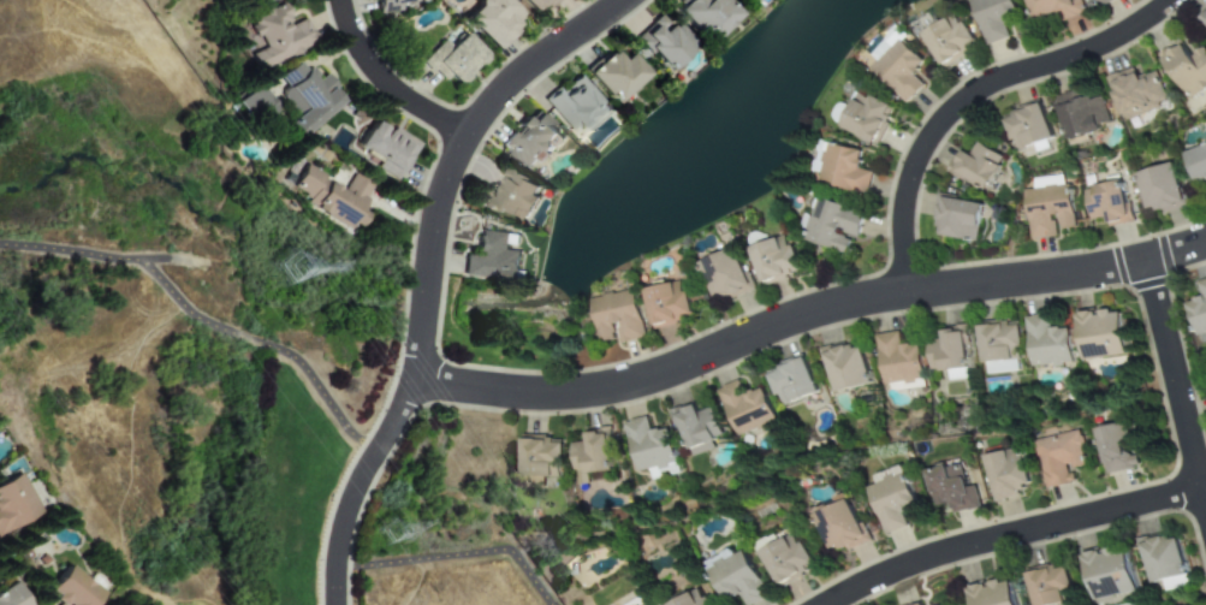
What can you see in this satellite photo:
building: (741, 0)
building: (1095, 1)
building: (1104, 2)
building: (390, 5)
building: (535, 5)
building: (1054, 8)
building: (701, 17)
building: (992, 18)
building: (489, 20)
building: (1201, 20)
building: (275, 36)
building: (946, 40)
building: (660, 45)
building: (450, 60)
building: (897, 69)
building: (1186, 69)
building: (610, 76)
road: (390, 84)
road: (975, 91)
building: (1136, 94)
building: (303, 97)
building: (255, 103)
building: (570, 103)
building: (1081, 115)
building: (865, 118)
building: (1024, 126)
building: (528, 141)
building: (381, 147)
road: (461, 154)
building: (1196, 164)
building: (975, 166)
building: (842, 171)
building: (1157, 189)
building: (509, 195)
building: (329, 197)
building: (1105, 202)
building: (1046, 210)
building: (955, 219)
building: (832, 226)
building: (493, 255)
building: (772, 260)
power tower: (289, 271)
building: (724, 275)
building: (666, 303)
building: (1198, 310)
road: (809, 314)
building: (614, 318)
road: (204, 321)
building: (1101, 334)
building: (999, 340)
building: (1046, 342)
building: (947, 350)
building: (897, 358)
building: (845, 367)
building: (792, 381)
road: (1176, 386)
building: (744, 408)
building: (697, 428)
building: (1118, 447)
building: (650, 449)
building: (592, 452)
building: (1063, 457)
building: (540, 458)
building: (1009, 473)
park: (302, 487)
road: (361, 487)
building: (953, 487)
building: (895, 502)
building: (14, 504)
building: (843, 526)
power tower: (390, 534)
road: (1004, 534)
road: (457, 558)
building: (789, 558)
building: (1162, 558)
building: (1107, 571)
building: (739, 579)
building: (1048, 585)
building: (65, 589)
building: (992, 593)
building: (6, 597)
building: (694, 599)
building: (642, 603)
building: (920, 604)

